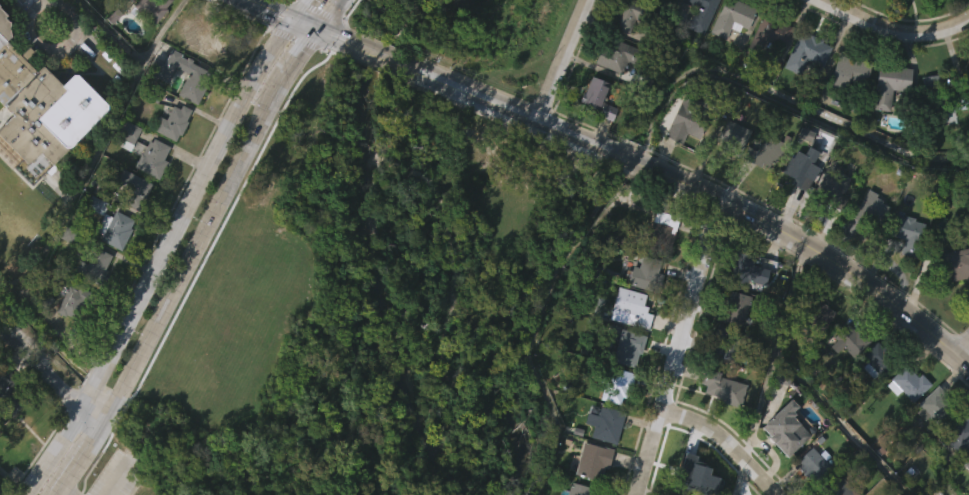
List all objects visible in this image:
building: (823, 0)
building: (284, 2)
building: (951, 6)
building: (857, 7)
building: (147, 8)
road: (48, 9)
road: (266, 10)
building: (117, 13)
building: (702, 13)
building: (633, 15)
road: (331, 17)
building: (733, 17)
building: (903, 19)
road: (305, 27)
road: (894, 29)
building: (769, 34)
road: (327, 38)
building: (206, 39)
building: (149, 42)
building: (697, 43)
building: (807, 52)
building: (619, 54)
building: (729, 54)
road: (376, 58)
road: (559, 61)
road: (293, 63)
building: (968, 67)
building: (766, 71)
building: (852, 73)
building: (197, 77)
building: (204, 78)
building: (891, 85)
building: (803, 90)
building: (596, 92)
building: (934, 94)
road: (474, 98)
building: (967, 104)
building: (42, 106)
building: (846, 112)
building: (194, 114)
building: (926, 118)
building: (687, 120)
building: (173, 122)
building: (886, 122)
building: (128, 134)
building: (595, 134)
building: (734, 137)
building: (939, 147)
building: (765, 151)
building: (153, 158)
building: (677, 159)
building: (169, 160)
building: (361, 162)
building: (797, 167)
building: (125, 173)
building: (729, 173)
building: (133, 188)
building: (835, 188)
road: (75, 190)
building: (759, 190)
building: (150, 195)
building: (868, 209)
building: (832, 222)
road: (762, 223)
building: (131, 226)
building: (115, 229)
building: (662, 232)
building: (909, 233)
road: (165, 245)
building: (867, 248)
building: (956, 263)
building: (659, 265)
building: (94, 266)
building: (112, 266)
road: (188, 266)
building: (749, 270)
building: (904, 271)
building: (646, 275)
park: (376, 279)
building: (954, 300)
building: (75, 301)
building: (92, 303)
building: (632, 308)
building: (736, 308)
building: (814, 312)
building: (69, 337)
building: (851, 337)
road: (3, 343)
building: (726, 344)
road: (961, 345)
road: (677, 346)
building: (629, 348)
building: (814, 350)
building: (881, 360)
building: (846, 377)
road: (47, 384)
building: (910, 384)
building: (617, 385)
building: (724, 388)
building: (9, 396)
building: (874, 396)
building: (937, 407)
building: (400, 419)
building: (905, 421)
building: (608, 424)
building: (719, 425)
building: (957, 432)
building: (783, 436)
road: (727, 440)
building: (7, 441)
building: (929, 444)
building: (966, 460)
building: (593, 461)
road: (79, 463)
building: (782, 465)
building: (815, 465)
parking lot: (119, 476)
building: (699, 478)
road: (123, 485)
building: (837, 485)
building: (581, 490)
road: (2, 492)
road: (60, 494)
road: (61, 494)
building: (674, 494)

